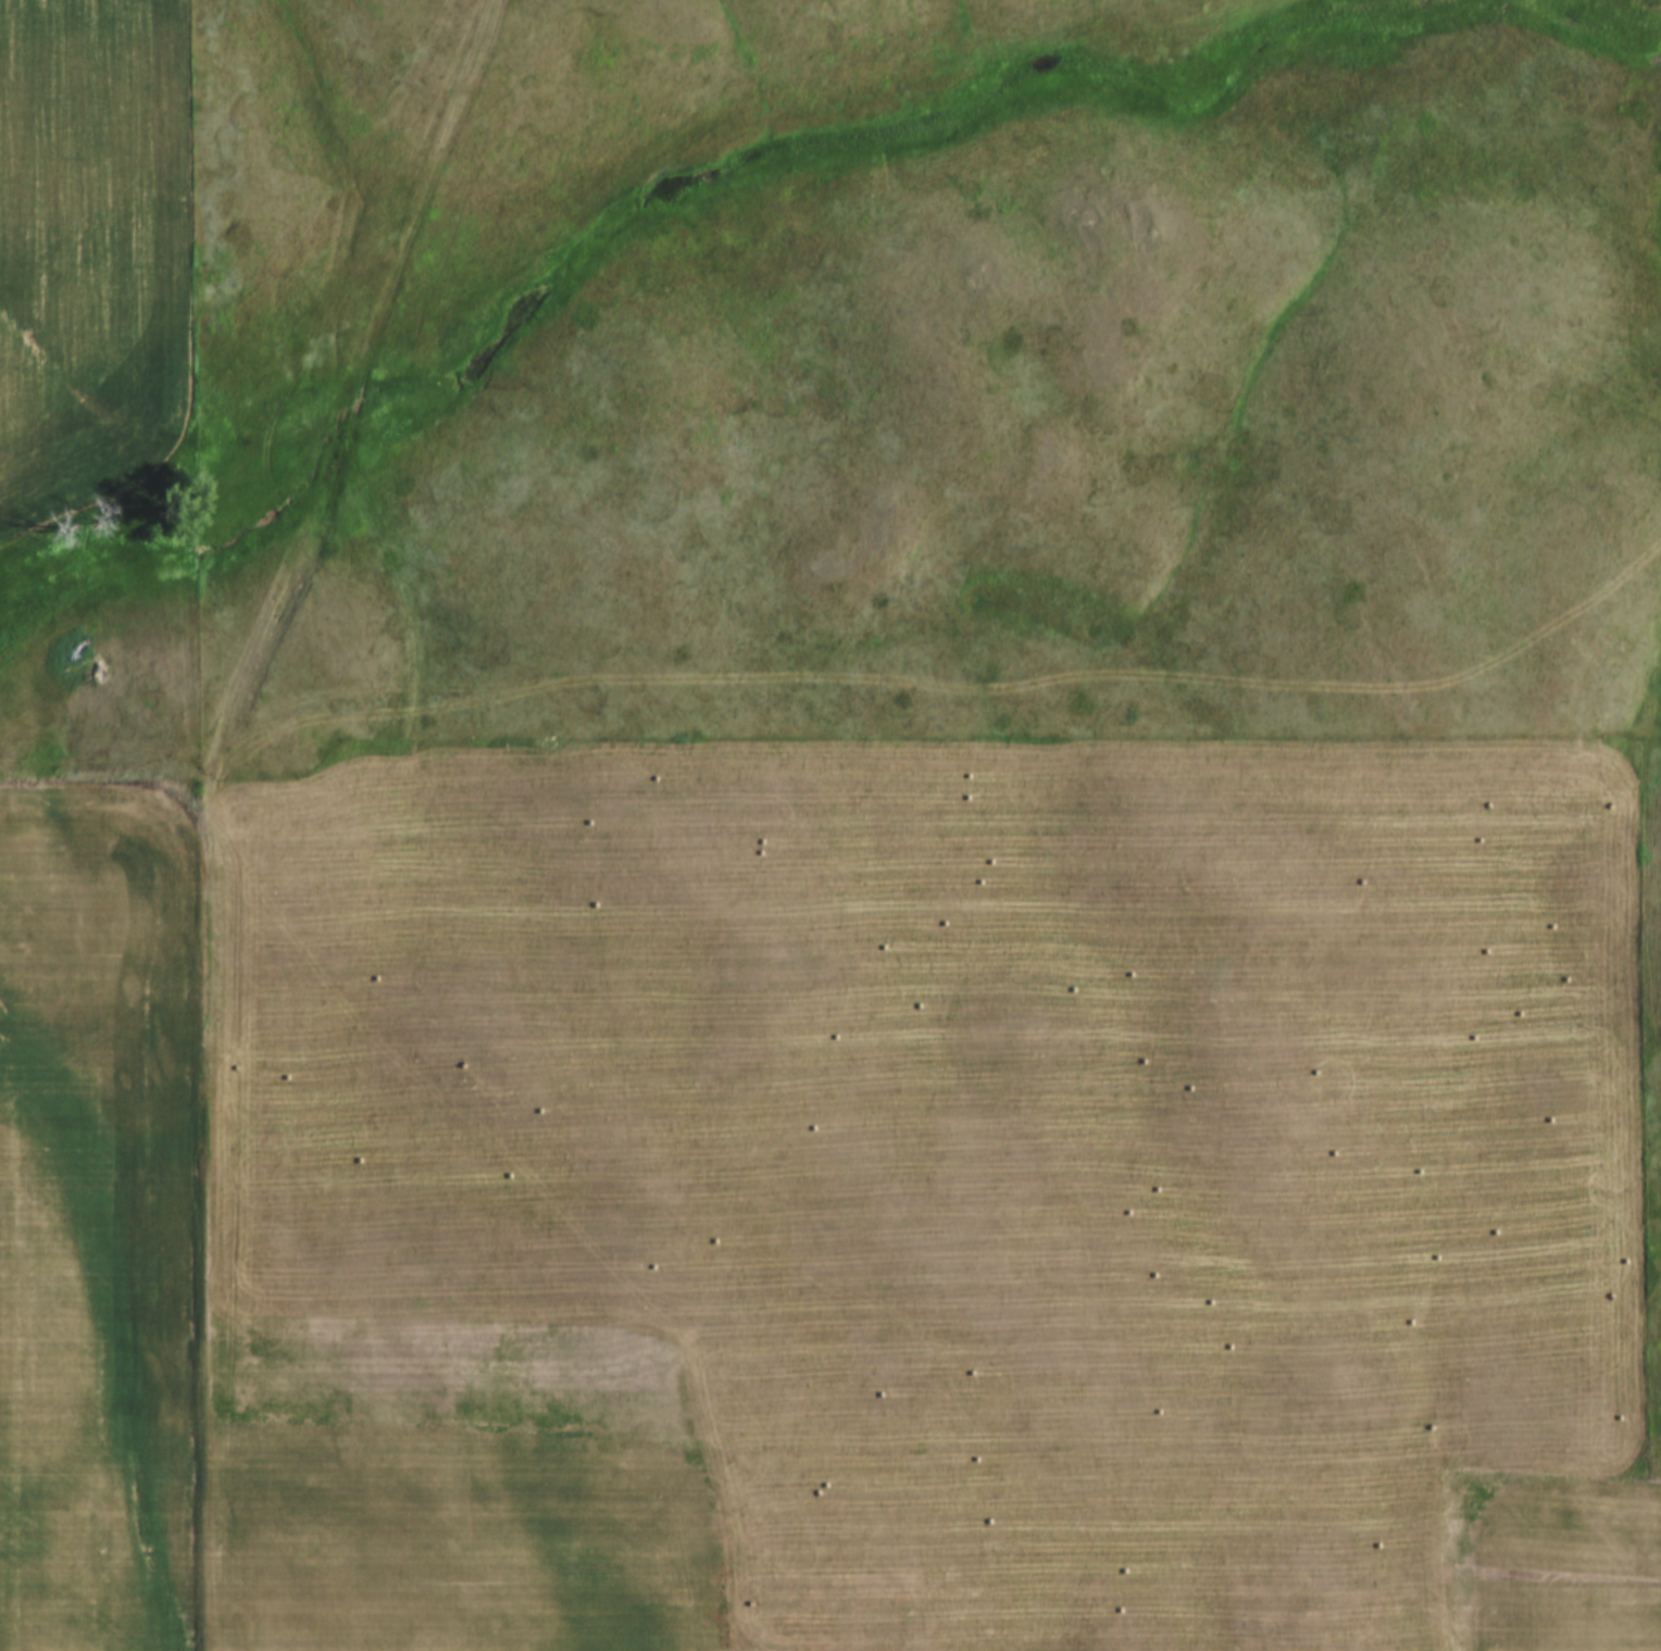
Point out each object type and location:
road: (1412, 483)
road: (134, 755)
road: (222, 799)

